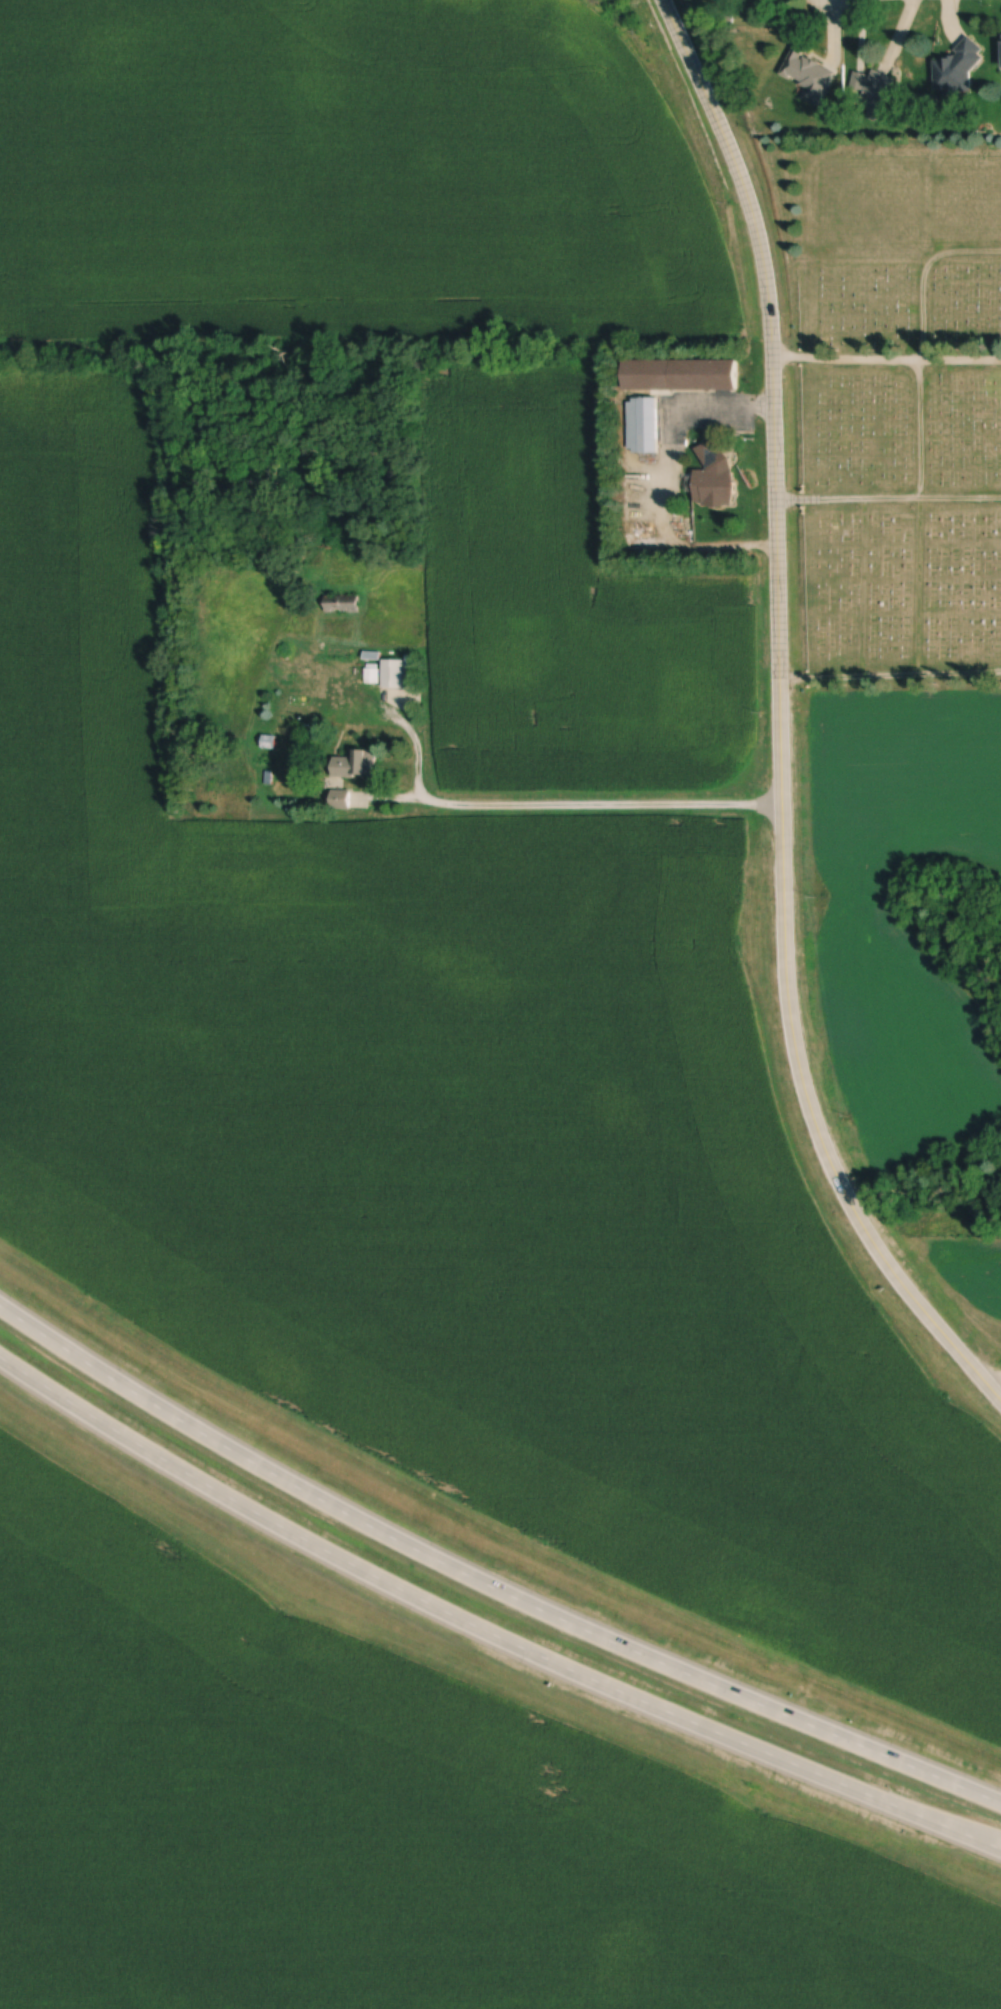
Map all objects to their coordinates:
road: (693, 65)
building: (958, 71)
building: (809, 75)
road: (962, 251)
road: (847, 357)
road: (960, 359)
building: (703, 375)
road: (774, 406)
park: (901, 411)
building: (642, 426)
road: (921, 470)
road: (664, 474)
building: (715, 478)
road: (889, 497)
building: (341, 605)
building: (394, 674)
road: (890, 674)
building: (356, 765)
building: (341, 800)
road: (546, 803)
road: (801, 1073)
road: (998, 1389)
road: (485, 1583)
road: (486, 1629)

